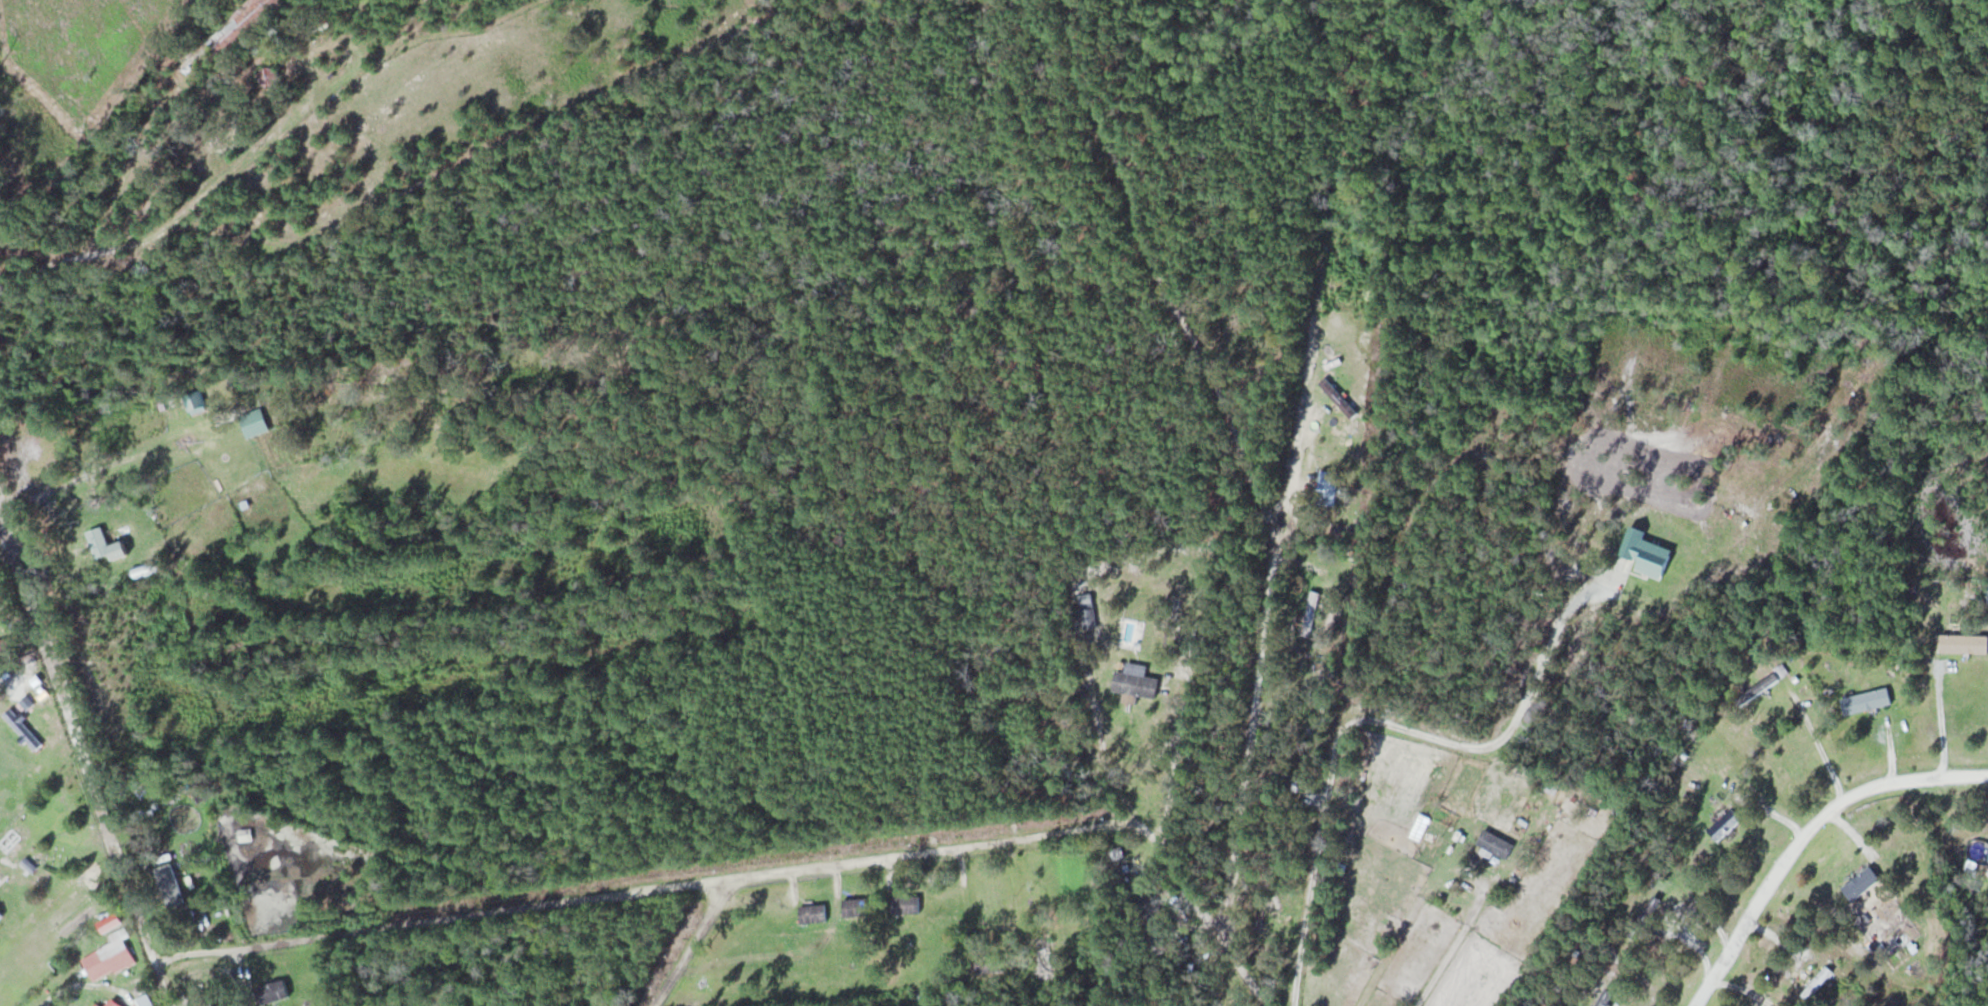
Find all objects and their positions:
building: (238, 22)
building: (271, 75)
building: (1357, 271)
road: (1161, 276)
building: (195, 401)
building: (254, 423)
road: (210, 431)
road: (1456, 447)
road: (67, 484)
building: (1330, 486)
building: (105, 545)
building: (1311, 610)
building: (1964, 643)
building: (1136, 681)
building: (1762, 686)
road: (16, 690)
building: (1866, 700)
road: (1937, 720)
road: (1515, 721)
building: (22, 728)
road: (4, 756)
road: (82, 760)
road: (1243, 782)
building: (140, 787)
building: (1725, 824)
road: (1803, 835)
building: (1496, 843)
road: (1317, 858)
building: (1861, 882)
building: (169, 884)
road: (652, 887)
building: (906, 903)
building: (856, 906)
building: (1148, 908)
building: (0, 910)
building: (813, 912)
road: (694, 941)
building: (636, 951)
building: (108, 956)
building: (1044, 958)
building: (989, 962)
building: (1827, 981)
building: (272, 991)
building: (114, 1003)
building: (97, 1004)

